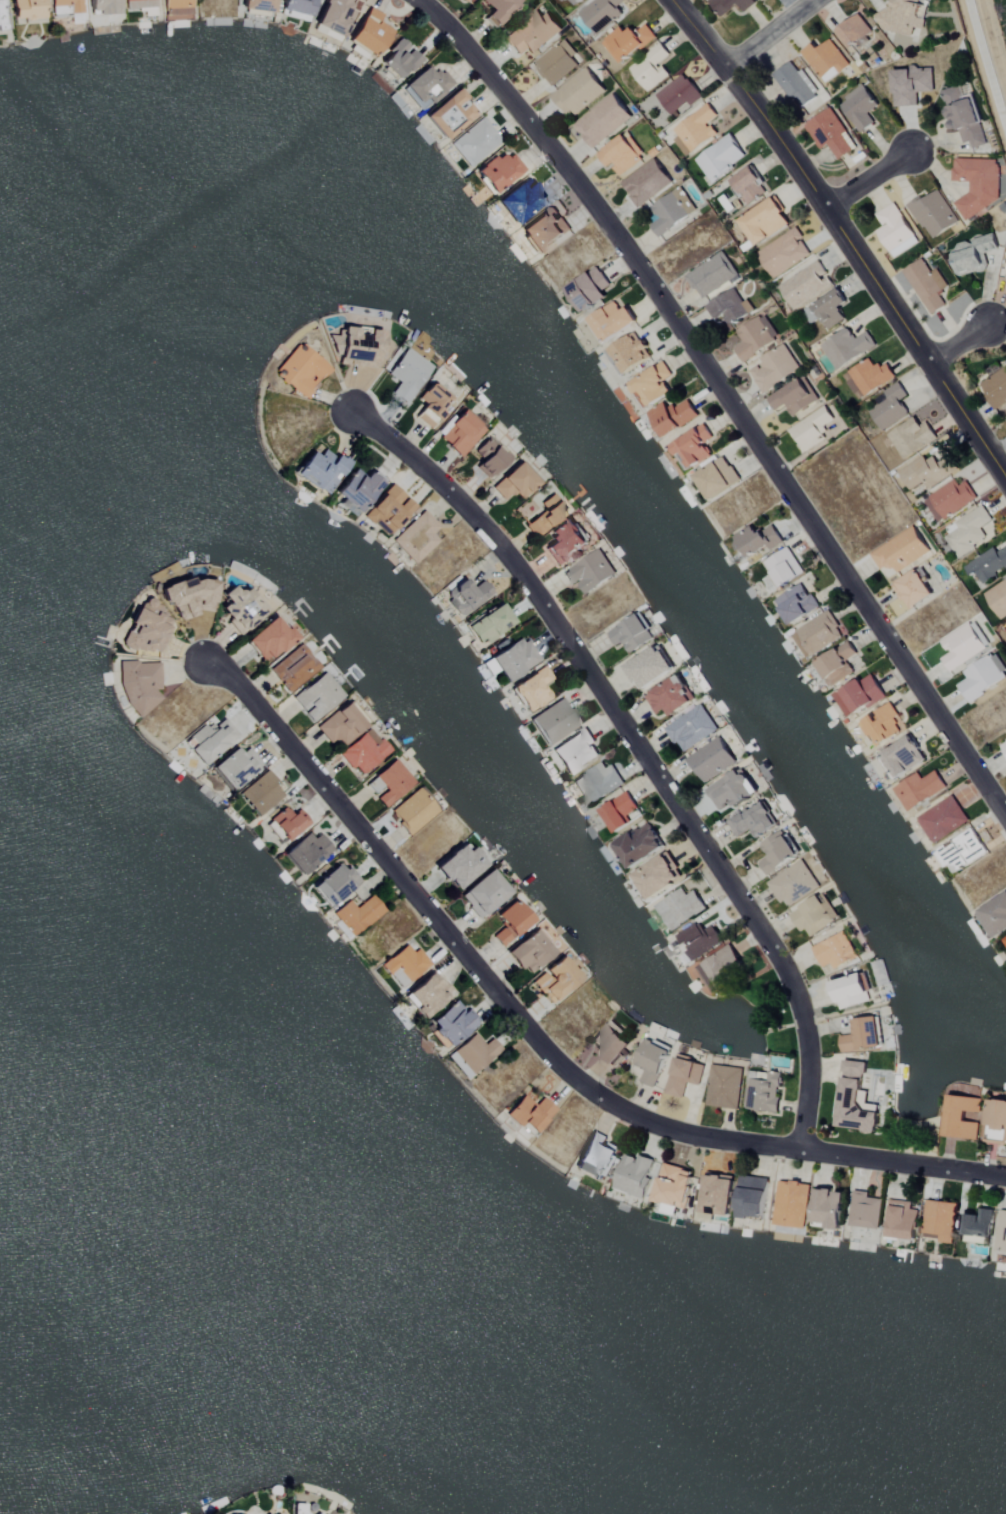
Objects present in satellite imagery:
building: (562, 0)
building: (759, 0)
building: (467, 1)
building: (573, 2)
building: (139, 3)
building: (258, 5)
building: (730, 5)
building: (102, 6)
building: (64, 7)
building: (26, 9)
building: (176, 9)
building: (296, 9)
building: (498, 10)
building: (600, 13)
building: (335, 15)
building: (900, 16)
building: (1, 19)
building: (853, 31)
building: (370, 33)
building: (531, 34)
road: (766, 34)
building: (626, 43)
building: (400, 60)
building: (824, 61)
road: (986, 62)
building: (556, 63)
building: (650, 68)
building: (794, 85)
building: (910, 86)
building: (426, 87)
building: (578, 93)
building: (678, 95)
building: (858, 108)
building: (449, 115)
building: (962, 116)
building: (603, 121)
building: (696, 129)
building: (829, 134)
building: (474, 143)
building: (619, 155)
building: (719, 159)
building: (498, 171)
road: (868, 180)
building: (646, 183)
building: (976, 185)
building: (748, 186)
building: (520, 201)
building: (670, 214)
building: (933, 215)
building: (763, 222)
building: (894, 231)
building: (542, 233)
road: (846, 233)
building: (783, 253)
building: (973, 254)
building: (711, 275)
building: (804, 285)
building: (926, 286)
building: (728, 307)
building: (826, 311)
building: (611, 322)
building: (753, 338)
road: (959, 345)
building: (360, 347)
building: (845, 348)
building: (629, 355)
building: (774, 369)
building: (301, 370)
building: (406, 374)
building: (870, 377)
building: (651, 386)
building: (810, 388)
building: (996, 389)
road: (726, 397)
building: (793, 399)
building: (431, 404)
building: (889, 407)
building: (672, 418)
building: (811, 430)
building: (461, 433)
building: (911, 438)
building: (693, 447)
building: (490, 455)
building: (321, 470)
building: (927, 472)
building: (717, 479)
building: (514, 482)
building: (357, 489)
building: (949, 500)
building: (389, 510)
building: (546, 515)
building: (967, 531)
building: (416, 536)
building: (564, 540)
building: (756, 541)
building: (900, 550)
building: (987, 565)
building: (783, 568)
building: (589, 571)
building: (912, 588)
building: (465, 594)
building: (188, 598)
building: (997, 599)
building: (796, 605)
building: (240, 608)
building: (490, 624)
building: (145, 629)
building: (631, 632)
building: (817, 633)
building: (270, 638)
building: (961, 644)
building: (514, 657)
building: (836, 663)
building: (649, 666)
building: (294, 668)
building: (982, 676)
building: (140, 684)
building: (533, 688)
building: (670, 695)
building: (860, 695)
building: (317, 696)
building: (555, 719)
building: (341, 724)
building: (882, 724)
building: (691, 728)
building: (1005, 733)
building: (208, 739)
building: (1004, 748)
building: (363, 751)
building: (576, 751)
road: (640, 753)
building: (900, 757)
building: (711, 759)
building: (235, 767)
building: (388, 782)
building: (597, 782)
building: (918, 788)
building: (731, 790)
building: (261, 792)
building: (413, 811)
building: (620, 812)
building: (942, 819)
building: (752, 821)
building: (286, 822)
building: (637, 843)
building: (307, 851)
building: (961, 851)
building: (776, 852)
building: (459, 865)
building: (657, 876)
building: (335, 883)
building: (793, 883)
building: (483, 893)
building: (679, 907)
building: (813, 914)
building: (994, 914)
building: (357, 915)
building: (510, 922)
building: (698, 939)
building: (1005, 939)
building: (834, 950)
building: (530, 951)
building: (404, 964)
building: (721, 968)
building: (555, 979)
building: (849, 991)
building: (427, 994)
building: (450, 1023)
building: (860, 1034)
road: (537, 1039)
building: (609, 1043)
building: (473, 1053)
building: (651, 1060)
building: (683, 1076)
building: (724, 1086)
building: (762, 1090)
building: (854, 1099)
building: (530, 1113)
building: (960, 1116)
building: (995, 1121)
building: (596, 1156)
building: (634, 1174)
building: (673, 1185)
building: (717, 1194)
building: (751, 1197)
building: (791, 1204)
building: (827, 1208)
building: (865, 1209)
building: (901, 1219)
building: (938, 1221)
building: (977, 1222)
building: (1001, 1231)

